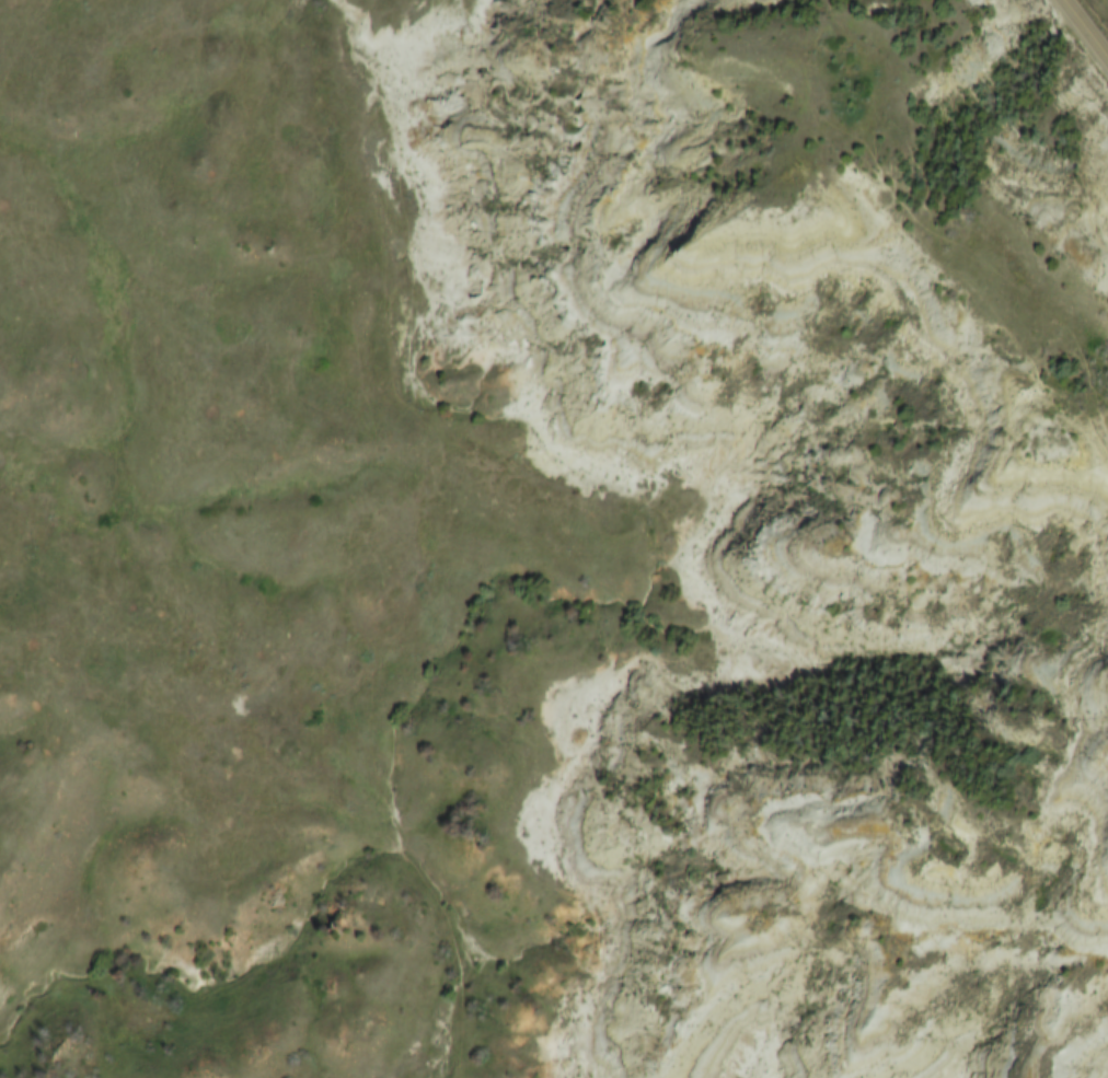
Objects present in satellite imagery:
road: (1078, 37)

